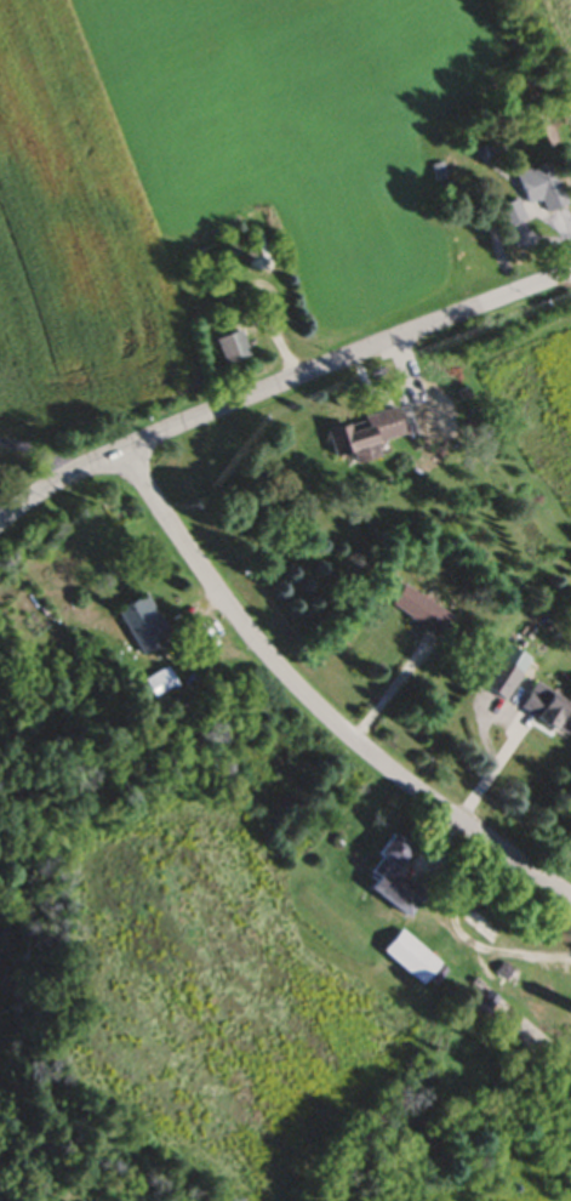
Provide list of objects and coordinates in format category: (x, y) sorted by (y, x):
building: (536, 192)
building: (509, 217)
building: (224, 349)
road: (279, 387)
building: (358, 438)
road: (38, 451)
building: (416, 614)
building: (136, 627)
building: (496, 682)
building: (153, 687)
road: (315, 706)
building: (546, 712)
building: (387, 880)
building: (406, 960)
building: (526, 1012)

